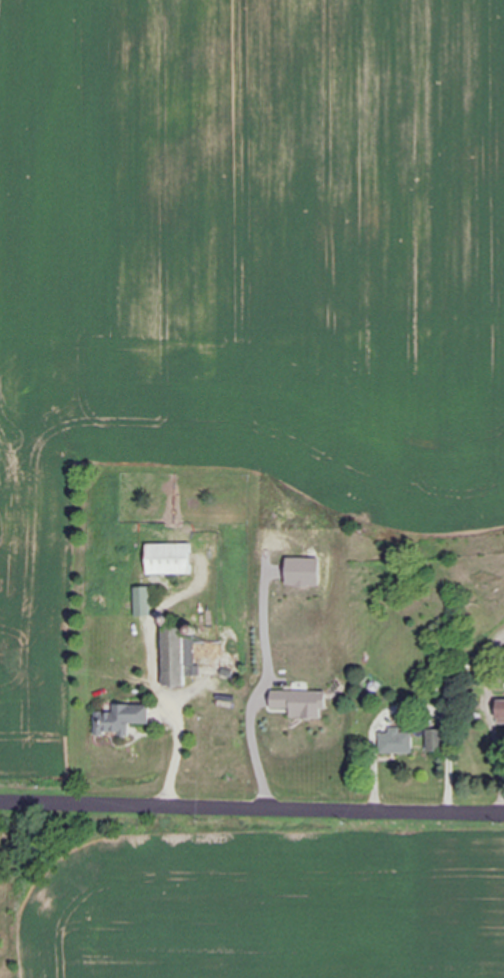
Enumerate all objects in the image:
building: (170, 558)
building: (143, 598)
building: (178, 658)
road: (489, 708)
building: (501, 712)
building: (122, 719)
building: (396, 742)
road: (258, 752)
road: (251, 803)

